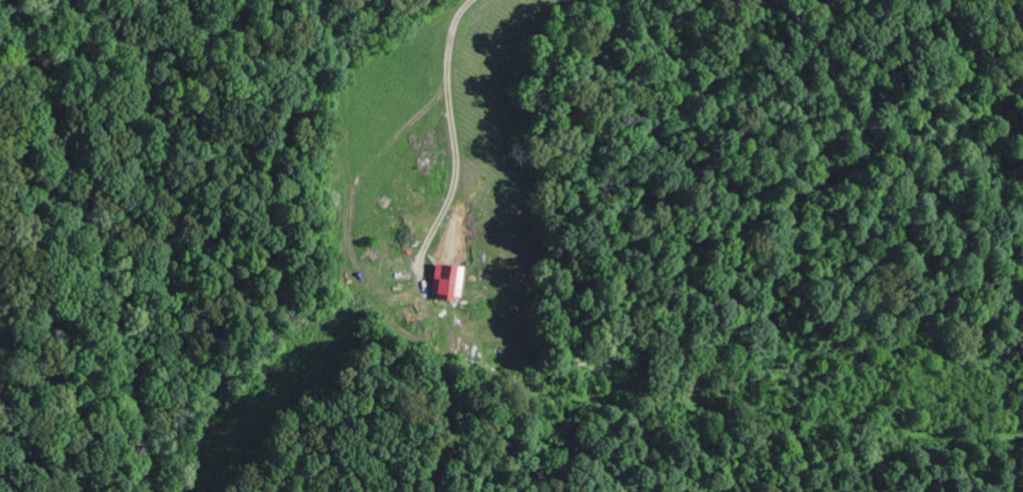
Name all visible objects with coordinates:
road: (87, 243)
building: (451, 282)

